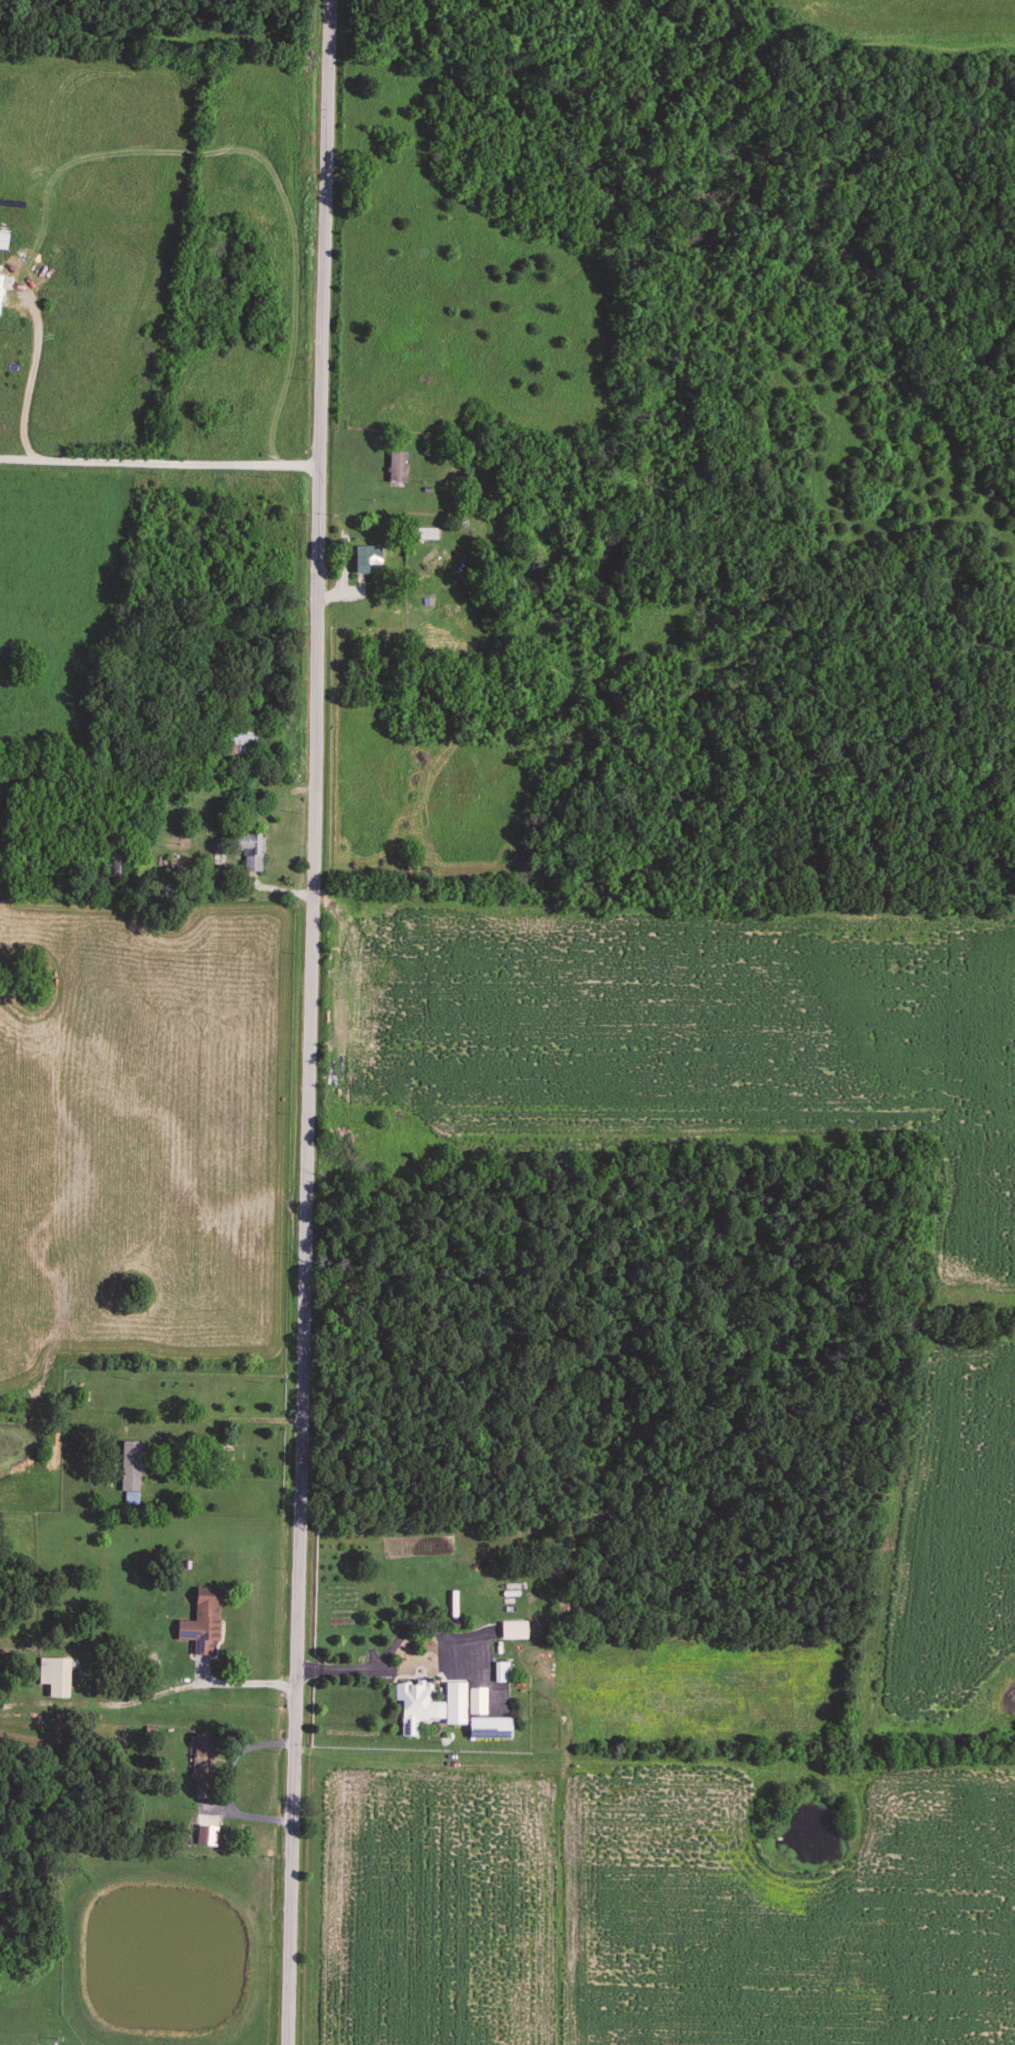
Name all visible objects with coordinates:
road: (28, 380)
road: (160, 459)
building: (395, 468)
building: (425, 534)
building: (365, 560)
building: (237, 741)
road: (218, 790)
road: (181, 820)
building: (207, 820)
building: (249, 850)
road: (311, 1022)
road: (249, 1418)
building: (128, 1467)
building: (201, 1624)
road: (407, 1673)
building: (51, 1677)
road: (187, 1688)
building: (453, 1705)
building: (413, 1706)
building: (487, 1729)
building: (202, 1765)

